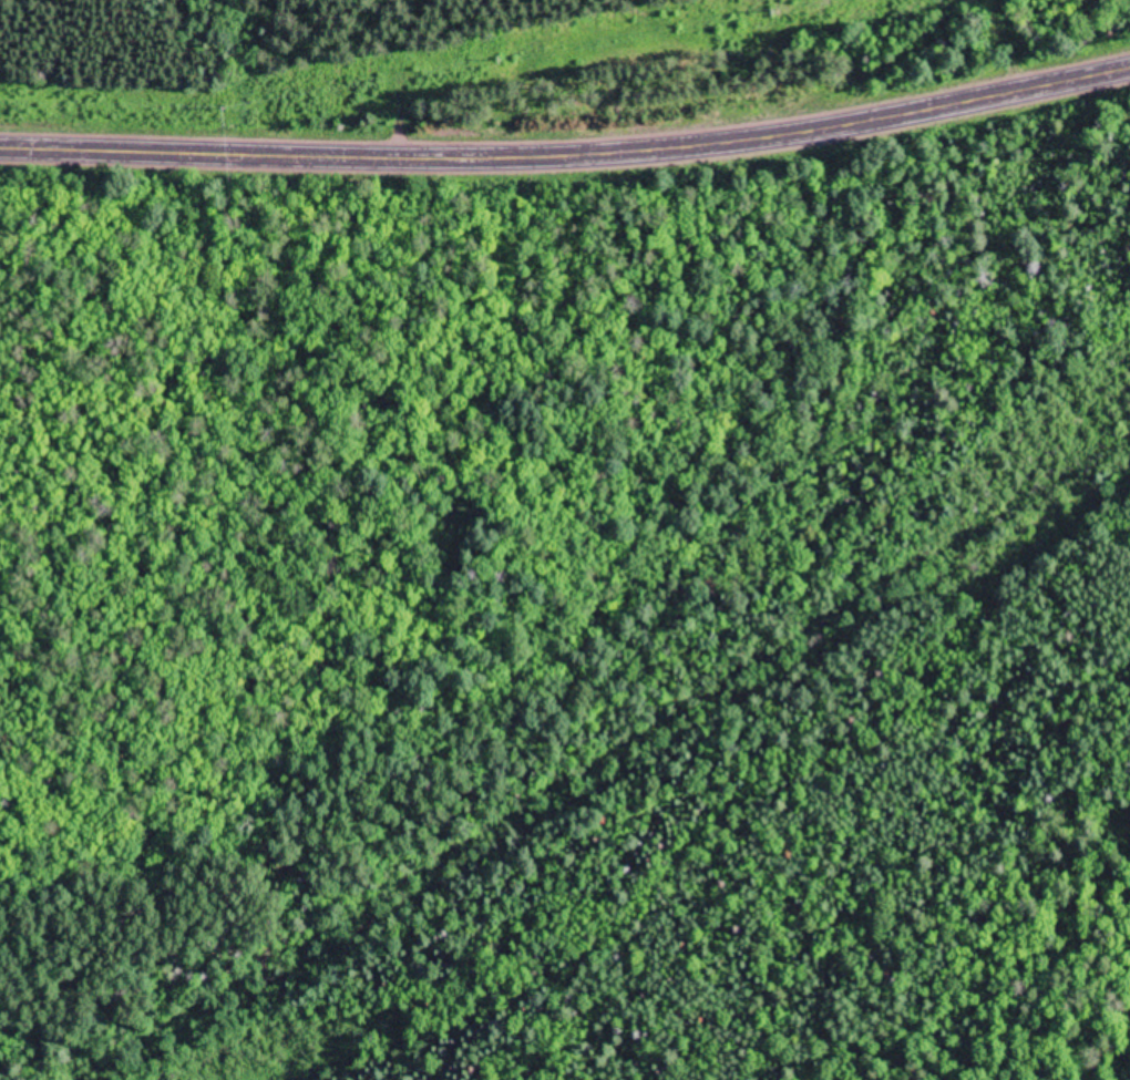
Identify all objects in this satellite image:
power tower: (781, 13)
power tower: (503, 61)
power tower: (232, 109)
road: (568, 155)

